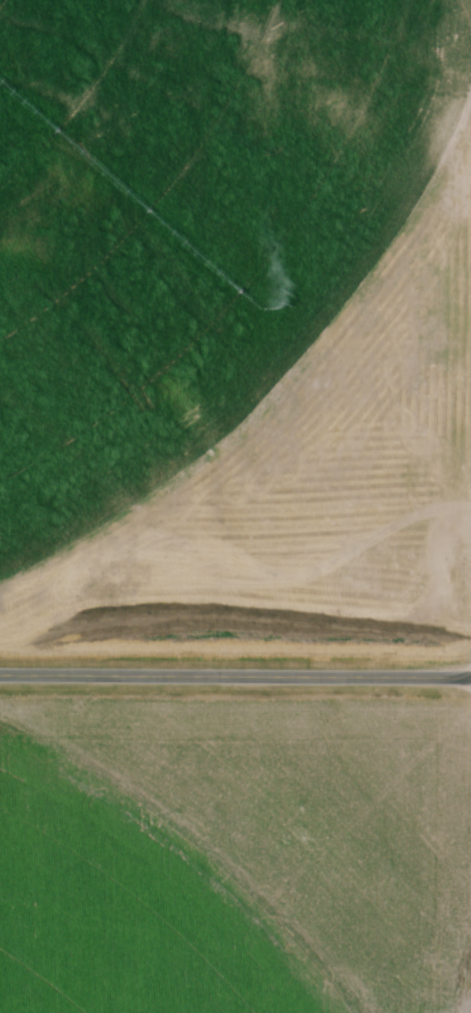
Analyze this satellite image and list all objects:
road: (235, 680)

